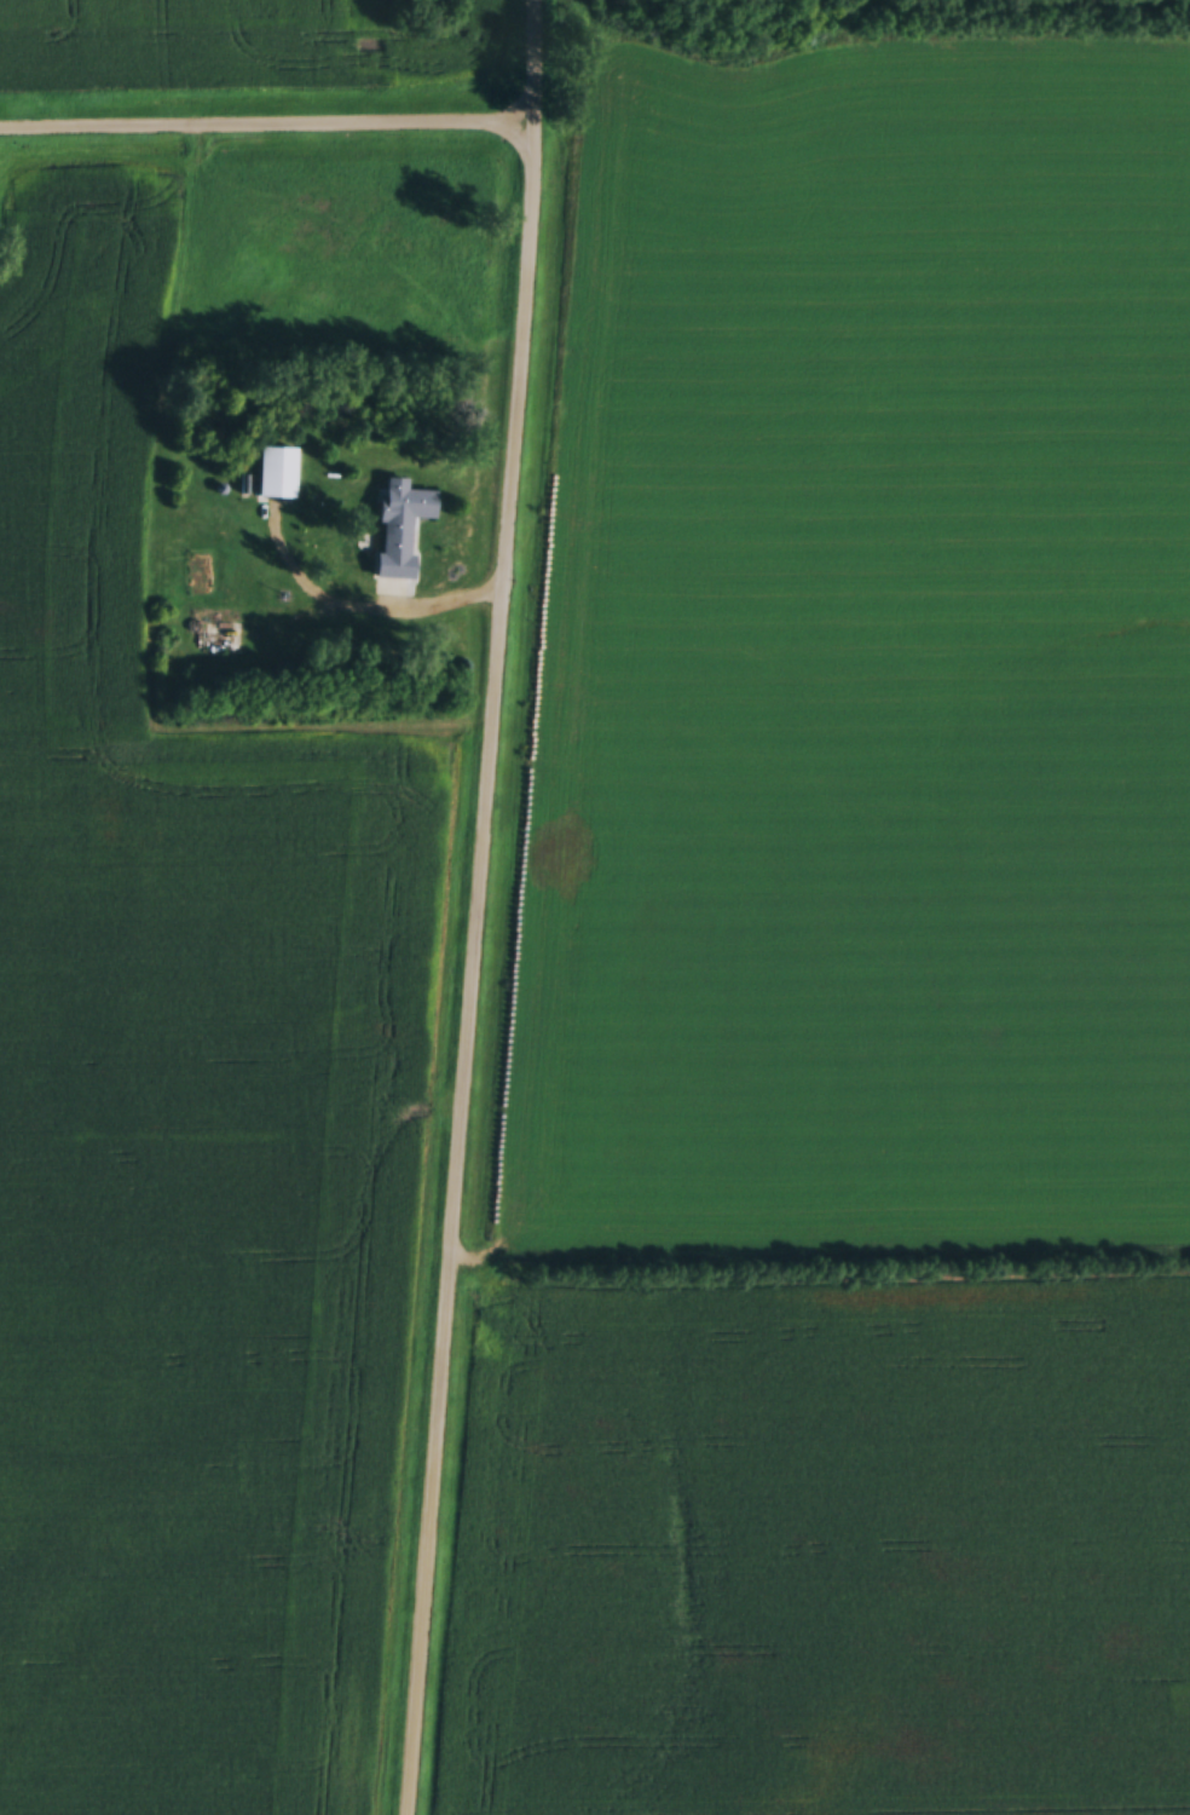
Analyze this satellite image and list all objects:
road: (268, 120)
building: (277, 473)
building: (402, 529)
road: (375, 603)
building: (214, 630)
road: (479, 907)

